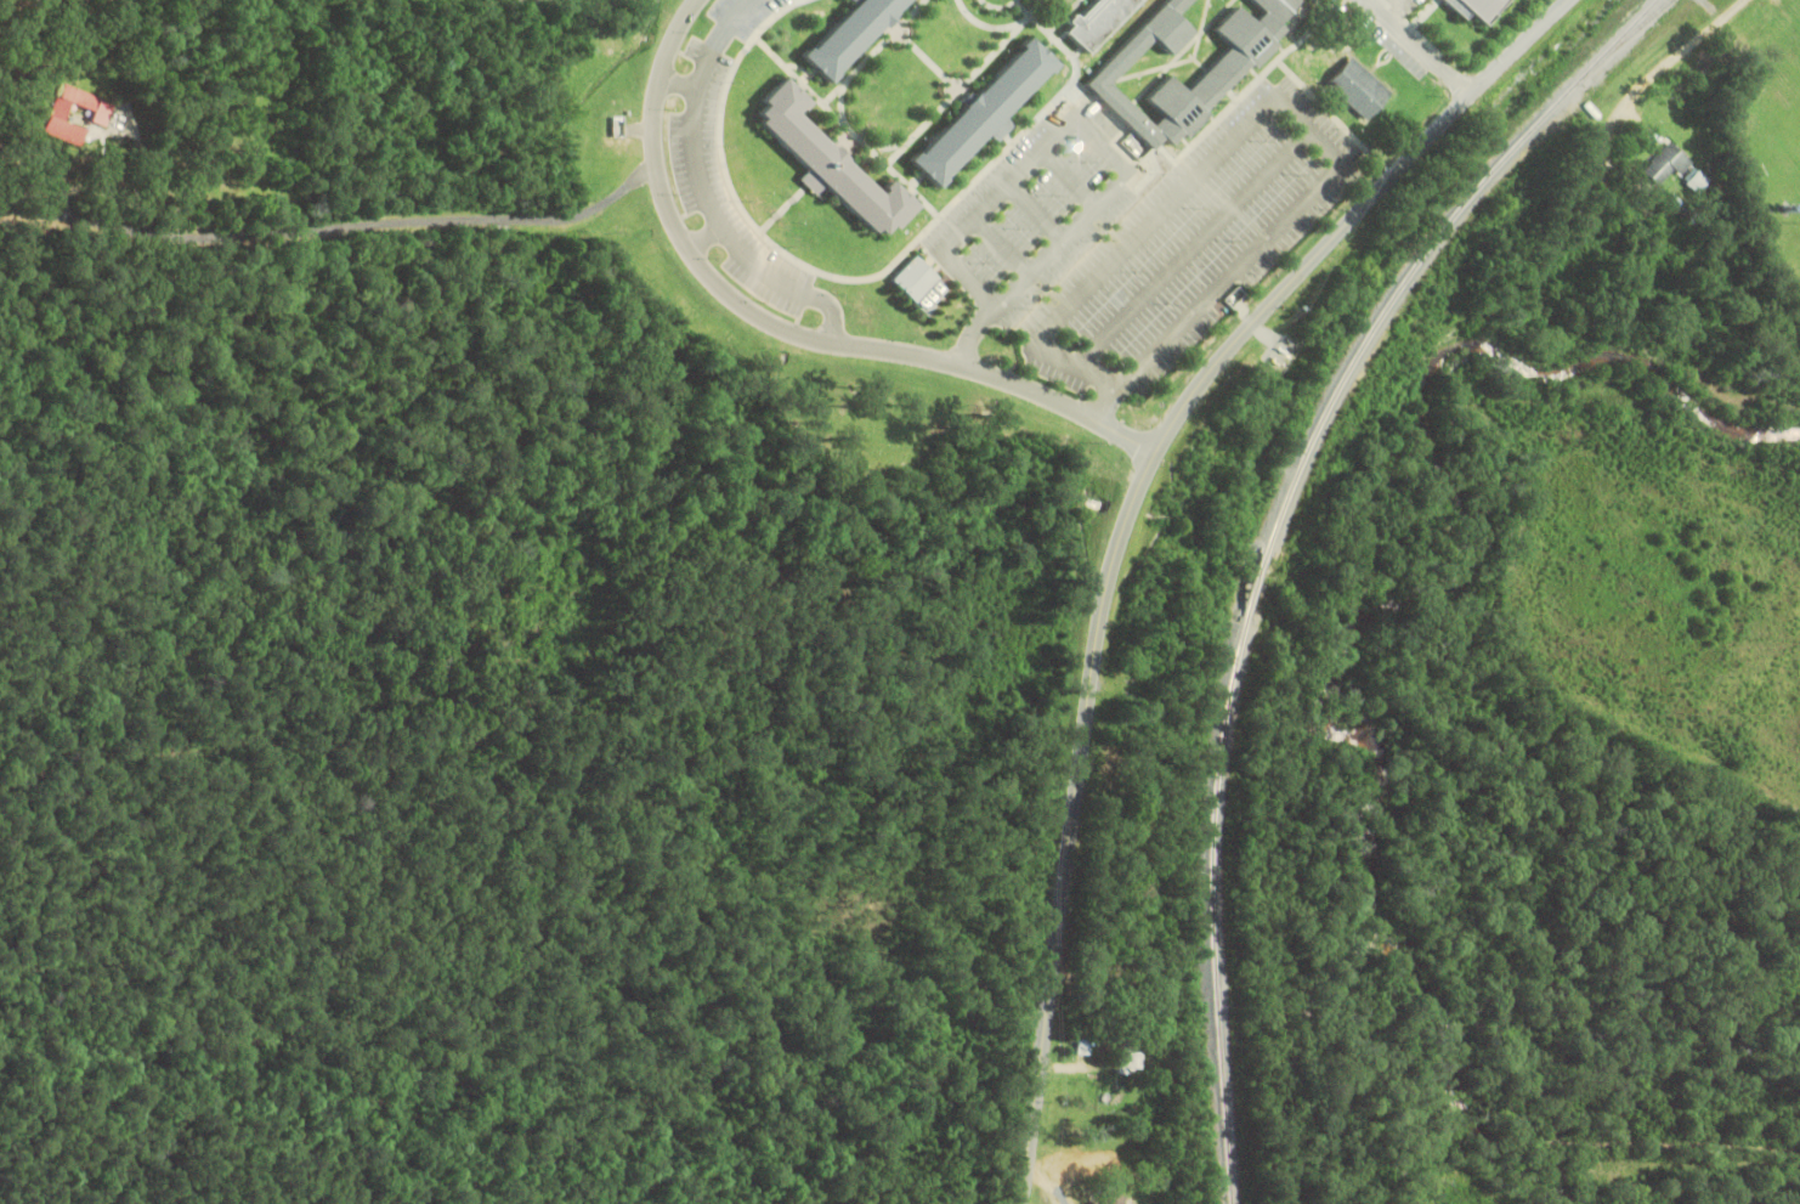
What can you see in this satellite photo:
road: (1000, 5)
building: (1472, 6)
road: (1715, 9)
road: (1398, 10)
parking lot: (741, 12)
road: (1397, 12)
road: (775, 15)
building: (1093, 19)
road: (1000, 27)
road: (1416, 29)
road: (1311, 30)
building: (845, 34)
road: (1419, 46)
road: (1686, 50)
road: (874, 52)
road: (928, 60)
building: (1221, 69)
road: (677, 78)
building: (1355, 85)
road: (955, 94)
road: (843, 101)
building: (95, 107)
building: (978, 111)
road: (1300, 111)
road: (848, 125)
road: (1210, 128)
road: (888, 145)
building: (822, 159)
building: (1665, 162)
parking lot: (724, 185)
road: (704, 196)
road: (781, 209)
parking lot: (1037, 209)
road: (334, 226)
road: (701, 233)
parking lot: (1194, 243)
road: (1193, 244)
road: (884, 270)
building: (910, 276)
road: (785, 327)
road: (1094, 373)
road: (1123, 522)
railway: (1268, 539)
river: (1372, 634)
building: (1119, 1198)

